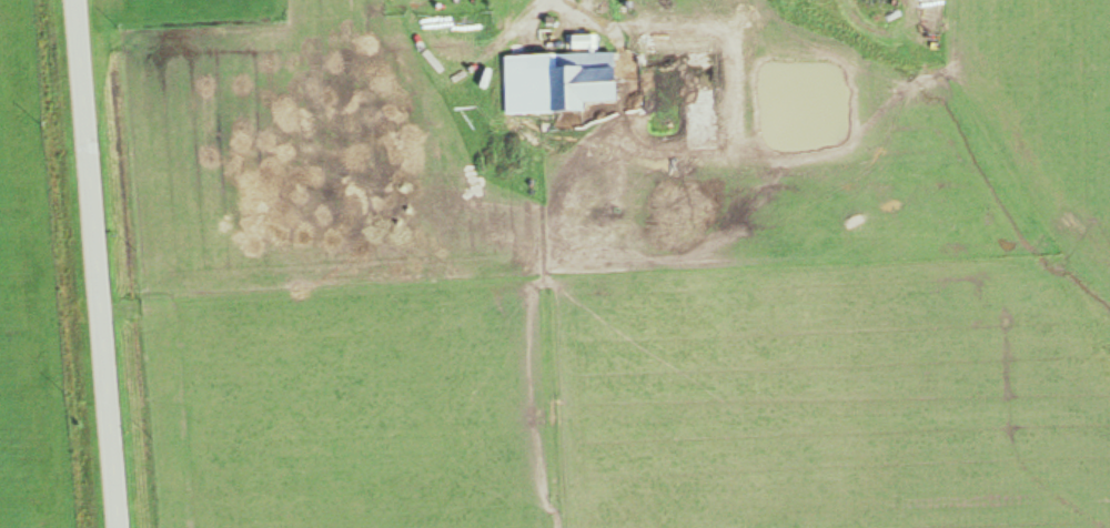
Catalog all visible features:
building: (588, 79)
road: (97, 264)

